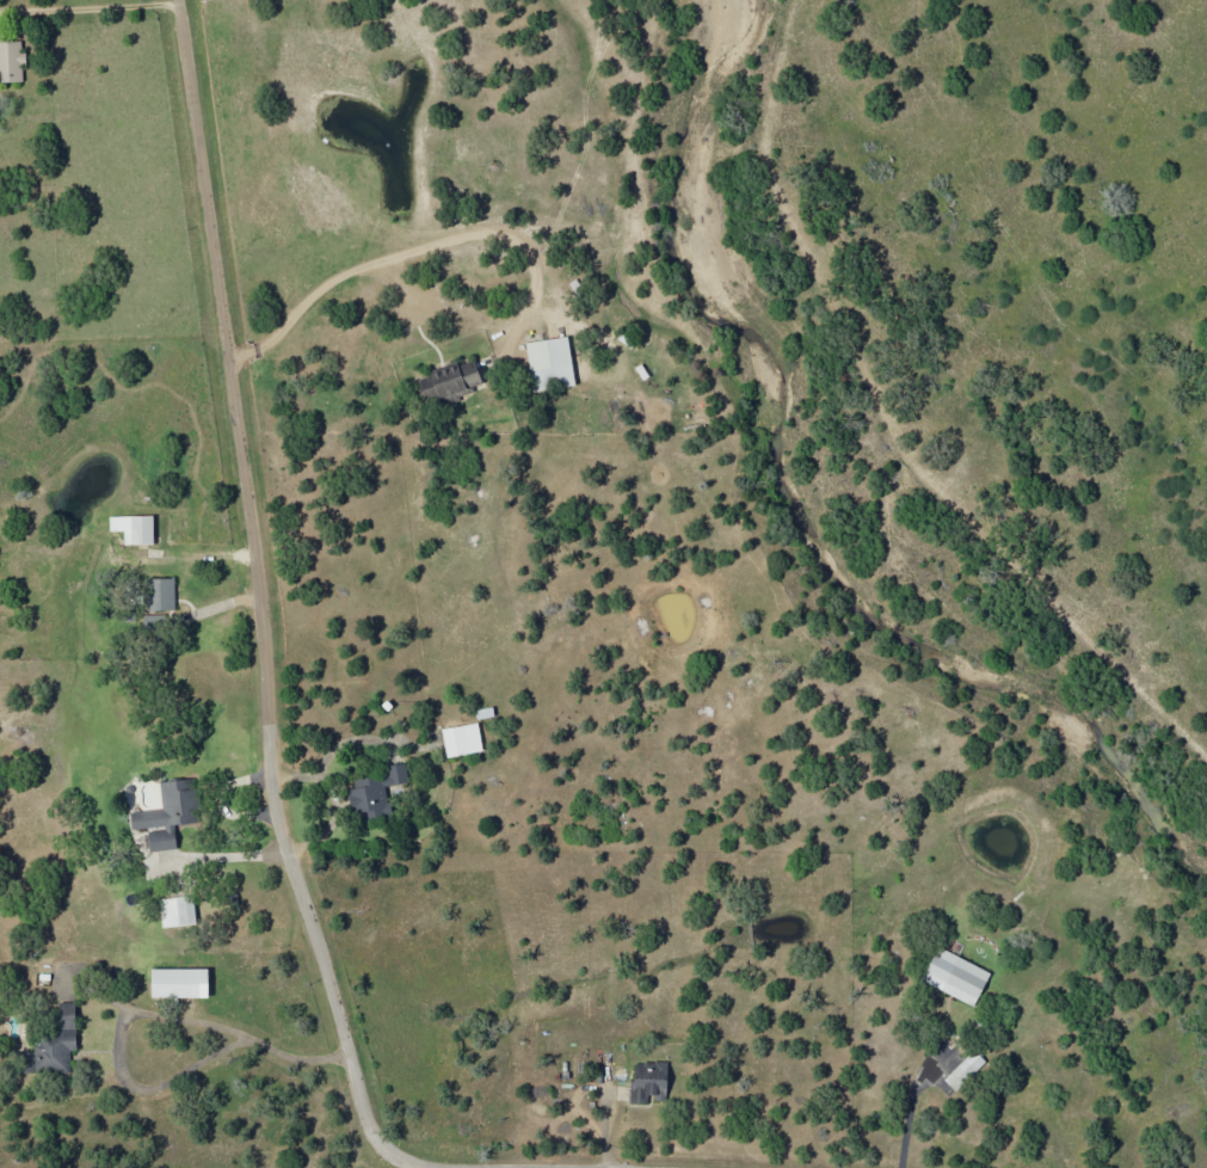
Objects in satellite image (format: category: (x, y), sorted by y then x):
building: (11, 62)
building: (550, 363)
building: (448, 383)
building: (134, 528)
building: (160, 594)
road: (273, 691)
building: (462, 739)
building: (375, 792)
building: (168, 814)
building: (177, 911)
building: (955, 976)
building: (179, 983)
building: (54, 1045)
building: (963, 1071)
building: (648, 1082)

